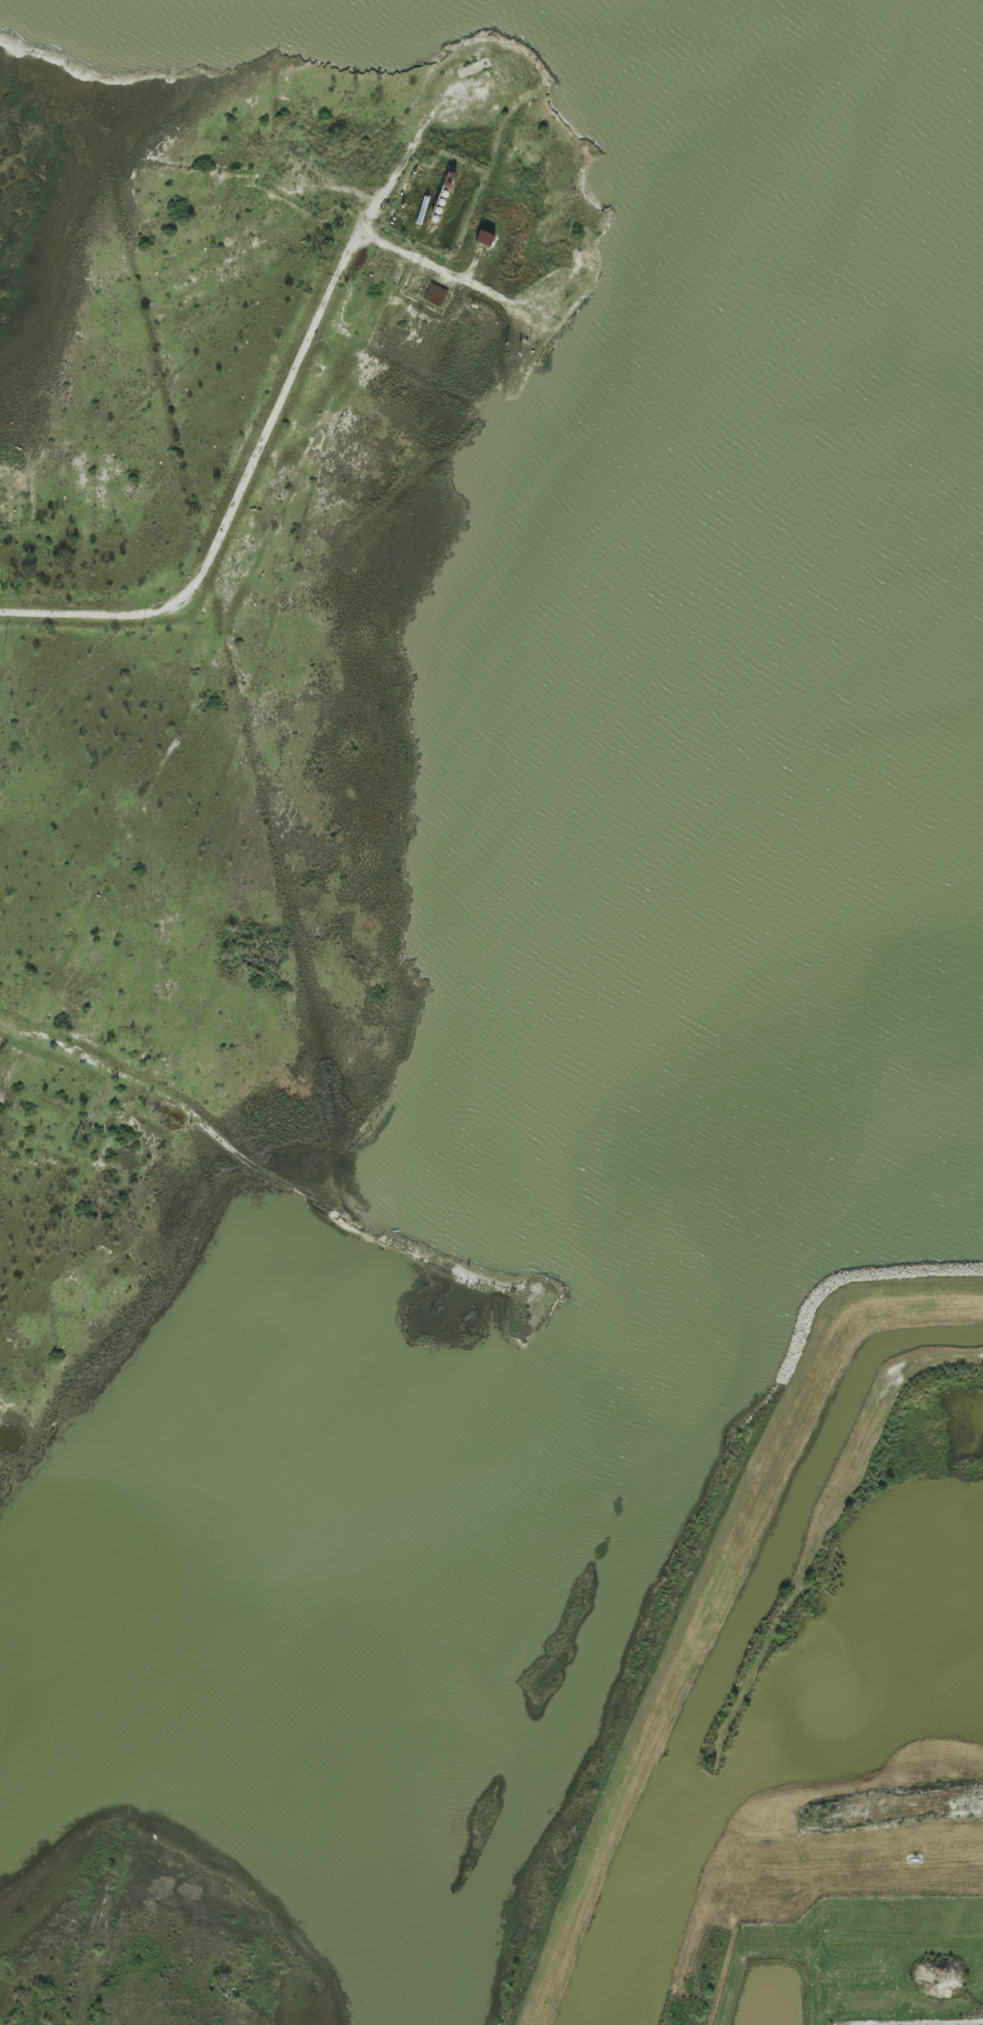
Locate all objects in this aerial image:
building: (484, 238)
road: (429, 264)
road: (262, 448)

